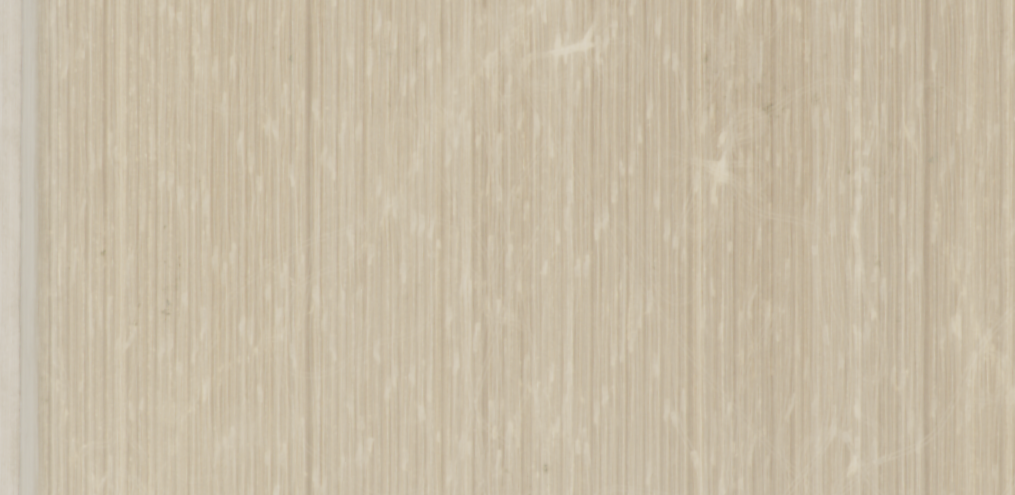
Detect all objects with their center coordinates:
road: (32, 247)
crop: (507, 247)

